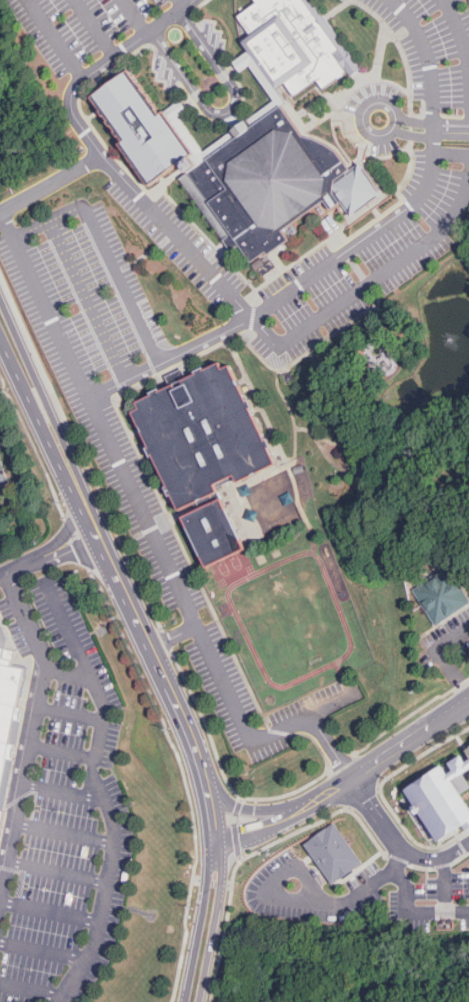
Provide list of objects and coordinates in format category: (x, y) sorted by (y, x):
road: (177, 4)
road: (131, 17)
road: (91, 28)
road: (461, 36)
road: (55, 38)
road: (427, 58)
road: (229, 109)
road: (72, 110)
road: (362, 125)
road: (413, 126)
road: (450, 128)
building: (247, 134)
road: (438, 153)
road: (356, 245)
road: (107, 251)
road: (371, 279)
road: (86, 302)
road: (46, 307)
road: (370, 332)
fountain: (450, 340)
road: (138, 375)
road: (281, 393)
building: (205, 432)
road: (32, 444)
road: (339, 445)
road: (80, 450)
road: (348, 473)
building: (2, 481)
building: (272, 510)
road: (69, 525)
building: (217, 531)
road: (63, 536)
road: (74, 536)
building: (277, 552)
road: (82, 553)
road: (49, 558)
road: (107, 558)
building: (262, 558)
park: (234, 567)
building: (442, 593)
track: (292, 617)
road: (348, 631)
road: (166, 638)
building: (2, 639)
road: (445, 660)
road: (68, 671)
road: (342, 678)
building: (6, 697)
road: (331, 706)
road: (409, 715)
road: (70, 718)
road: (206, 725)
road: (33, 736)
road: (256, 740)
road: (411, 741)
road: (463, 743)
building: (468, 749)
road: (63, 756)
road: (342, 761)
road: (184, 775)
road: (467, 775)
road: (97, 786)
road: (379, 787)
road: (336, 791)
road: (63, 794)
road: (288, 794)
road: (382, 795)
road: (466, 795)
road: (363, 796)
building: (444, 799)
road: (238, 807)
road: (349, 808)
road: (261, 813)
building: (0, 816)
road: (235, 818)
road: (218, 825)
road: (266, 826)
road: (65, 835)
road: (237, 839)
road: (399, 843)
road: (462, 846)
road: (255, 852)
building: (329, 856)
road: (241, 857)
road: (460, 858)
road: (397, 859)
road: (442, 865)
road: (421, 867)
road: (57, 873)
road: (197, 880)
road: (214, 882)
road: (231, 885)
road: (443, 897)
road: (313, 902)
road: (408, 907)
road: (49, 913)
road: (205, 932)
road: (42, 954)
road: (34, 989)
road: (54, 998)
road: (69, 998)

